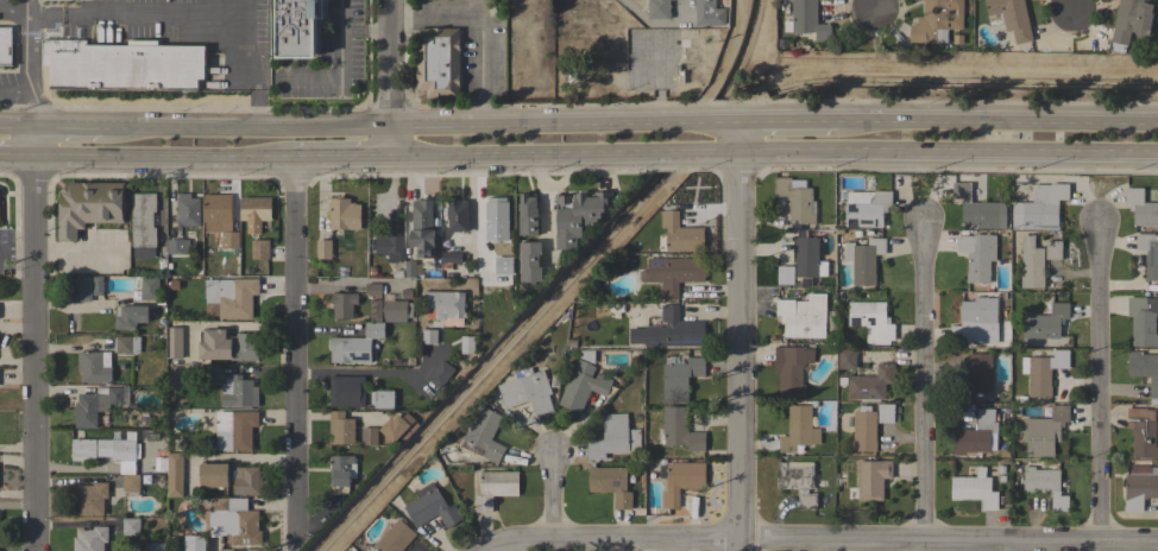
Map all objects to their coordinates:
road: (880, 1)
building: (659, 8)
road: (1072, 11)
building: (705, 12)
road: (21, 13)
road: (144, 14)
building: (1009, 18)
building: (1131, 19)
building: (807, 20)
road: (646, 21)
building: (937, 21)
building: (296, 28)
road: (482, 28)
road: (363, 31)
building: (5, 45)
road: (30, 52)
building: (438, 62)
building: (122, 65)
road: (340, 65)
road: (385, 65)
road: (253, 72)
road: (14, 90)
road: (31, 109)
road: (948, 127)
road: (17, 128)
road: (67, 128)
road: (240, 131)
road: (561, 131)
road: (738, 142)
road: (384, 151)
road: (949, 159)
road: (561, 163)
road: (18, 164)
road: (163, 165)
road: (336, 167)
building: (797, 199)
building: (88, 207)
road: (543, 207)
building: (1044, 207)
building: (1141, 207)
building: (867, 208)
building: (978, 209)
building: (0, 210)
building: (187, 210)
building: (216, 210)
building: (254, 211)
building: (344, 214)
building: (528, 214)
building: (458, 215)
building: (496, 215)
building: (578, 215)
building: (143, 224)
building: (423, 229)
building: (679, 234)
building: (229, 241)
building: (178, 246)
building: (390, 247)
road: (18, 248)
building: (259, 249)
building: (323, 249)
building: (1053, 249)
building: (1148, 253)
building: (977, 255)
building: (452, 258)
building: (807, 259)
building: (863, 259)
building: (529, 264)
building: (1031, 264)
building: (409, 270)
building: (674, 273)
building: (396, 274)
building: (785, 274)
building: (174, 285)
building: (84, 287)
building: (149, 289)
building: (375, 289)
building: (407, 294)
building: (231, 296)
building: (344, 304)
building: (443, 304)
building: (396, 310)
building: (131, 316)
building: (803, 316)
building: (976, 319)
building: (871, 321)
building: (1143, 321)
building: (1045, 323)
building: (669, 330)
building: (428, 336)
road: (36, 338)
building: (126, 343)
building: (174, 343)
building: (355, 344)
building: (466, 344)
building: (227, 346)
road: (292, 348)
road: (740, 354)
building: (847, 359)
building: (94, 366)
building: (791, 368)
building: (1145, 370)
road: (367, 372)
building: (1044, 372)
building: (980, 373)
building: (214, 374)
building: (441, 374)
building: (679, 376)
road: (929, 381)
road: (1097, 381)
building: (583, 382)
building: (870, 384)
building: (347, 391)
building: (527, 391)
building: (239, 392)
building: (382, 399)
building: (97, 405)
building: (886, 413)
building: (396, 426)
building: (1045, 426)
building: (341, 427)
building: (234, 430)
building: (680, 430)
building: (798, 430)
building: (864, 430)
building: (1143, 432)
building: (485, 433)
building: (369, 435)
building: (977, 435)
building: (612, 437)
building: (103, 449)
building: (1003, 452)
building: (157, 465)
building: (1000, 468)
building: (341, 473)
building: (175, 474)
building: (214, 474)
building: (871, 479)
building: (246, 480)
building: (681, 481)
building: (798, 481)
building: (131, 482)
building: (610, 484)
building: (1045, 486)
building: (1140, 487)
building: (495, 488)
road: (545, 488)
building: (974, 489)
building: (89, 499)
building: (430, 507)
building: (233, 520)
building: (131, 526)
building: (394, 537)
road: (811, 538)
building: (90, 539)
building: (195, 543)
building: (153, 546)
building: (227, 550)
building: (251, 550)

